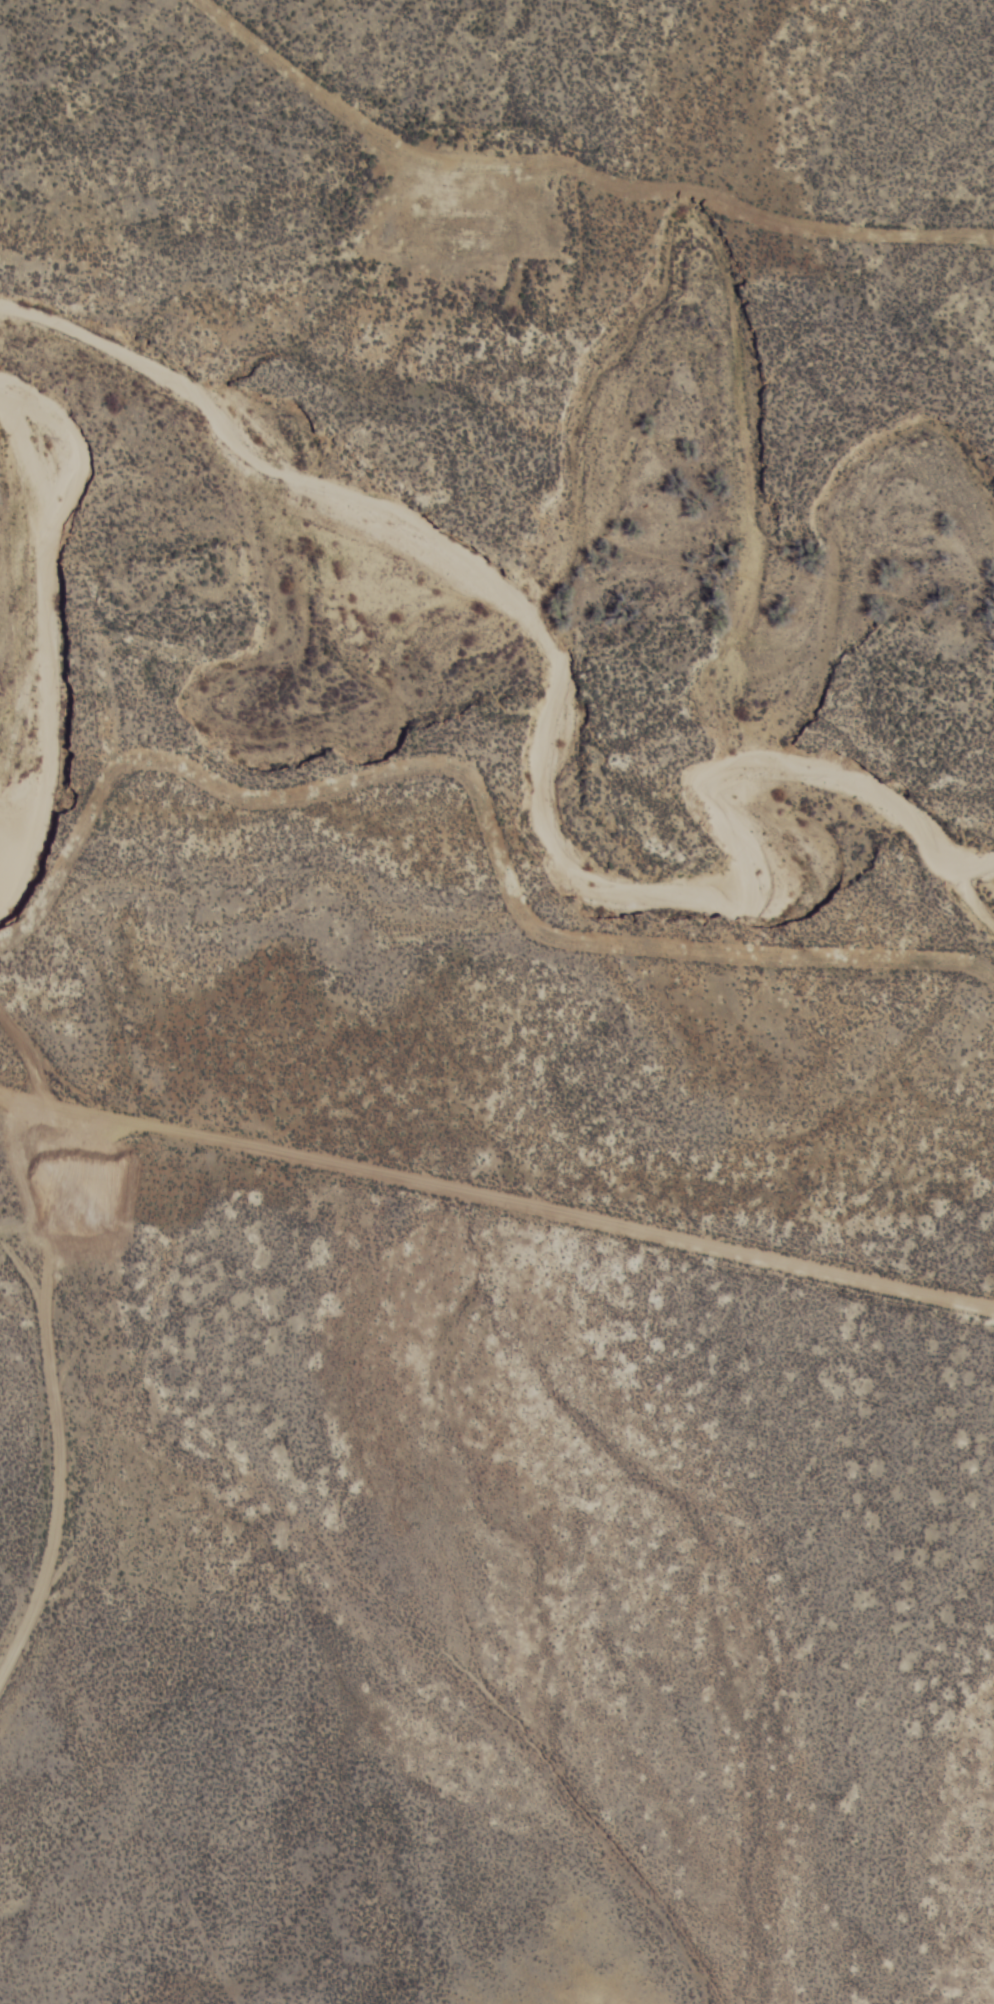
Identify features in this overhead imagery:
river: (44, 632)
river: (562, 719)
river: (976, 891)
road: (497, 1199)
road: (81, 1493)

